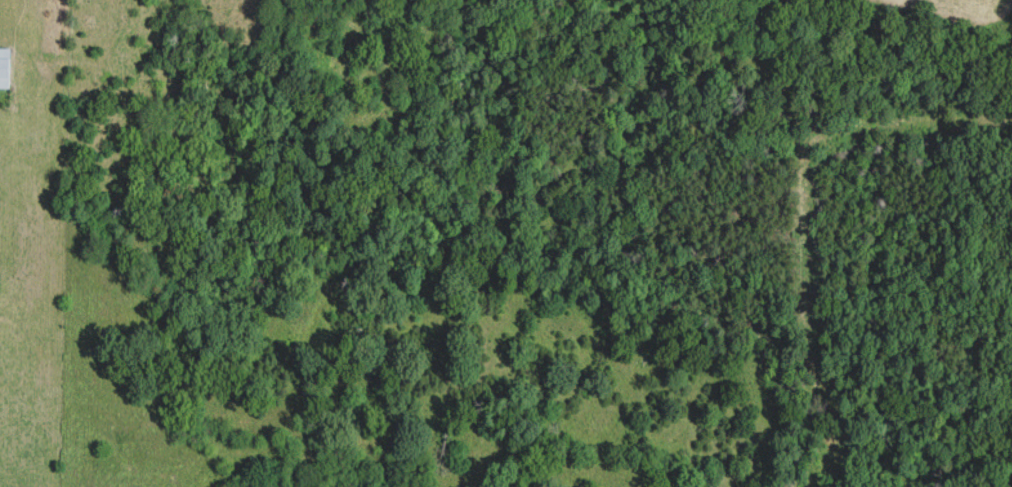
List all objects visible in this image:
building: (6, 67)

